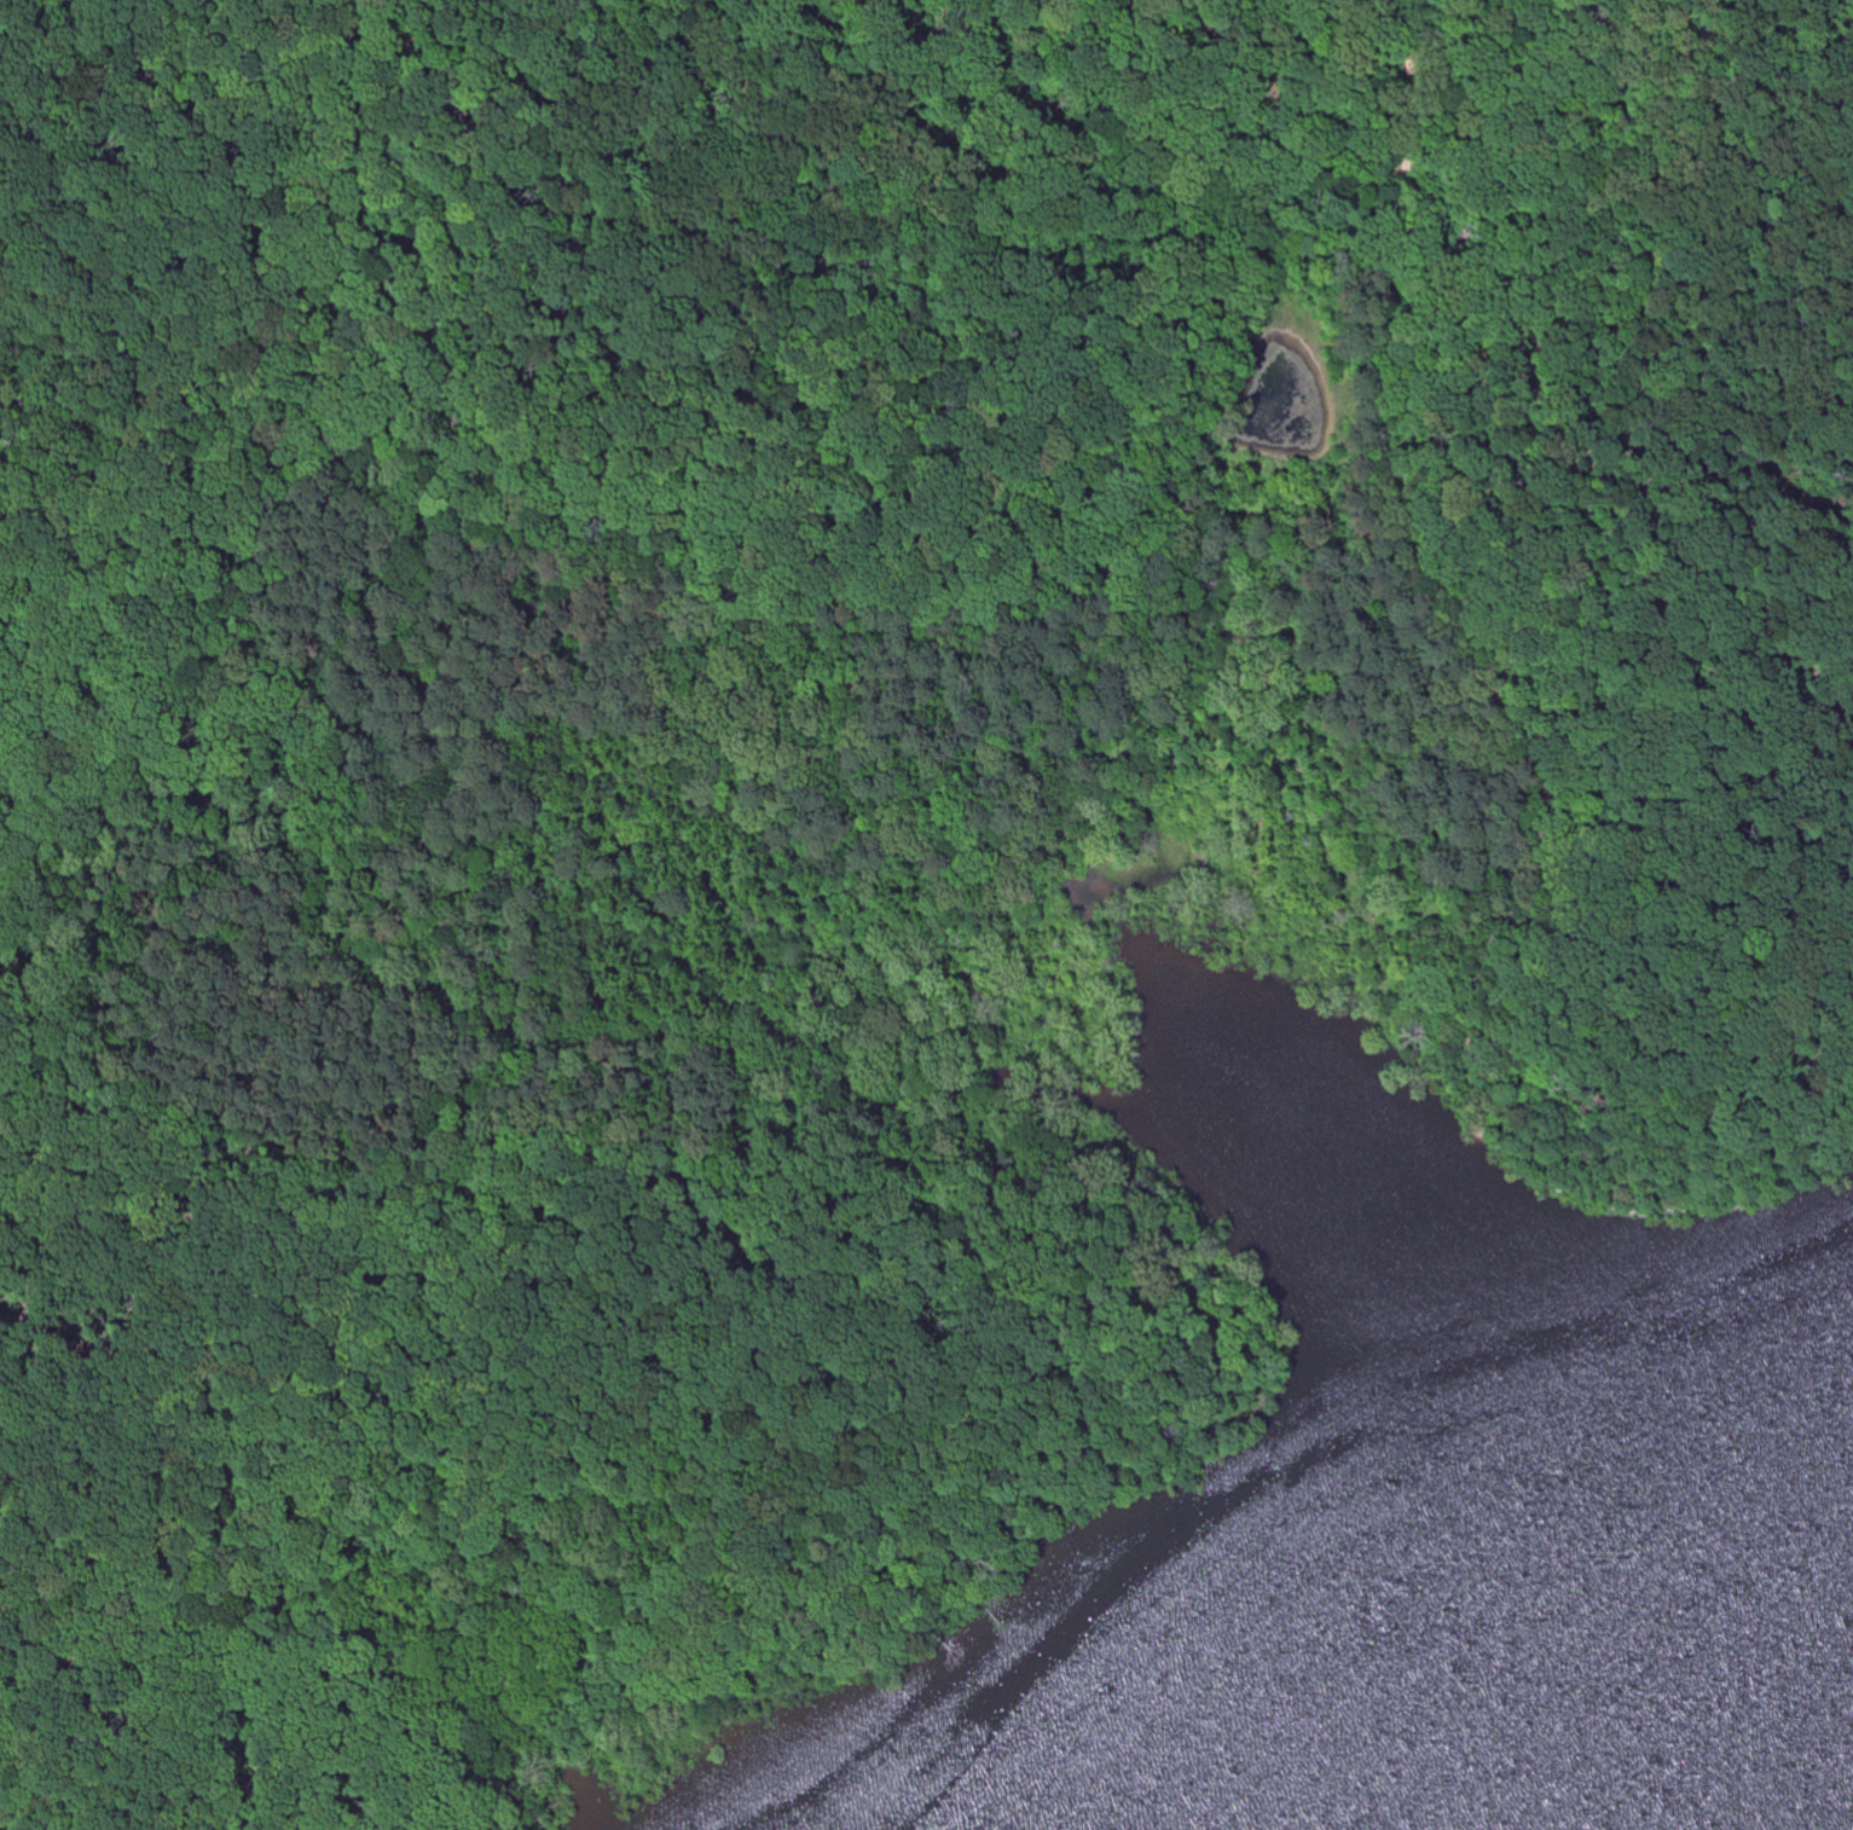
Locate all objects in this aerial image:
road: (1429, 572)

